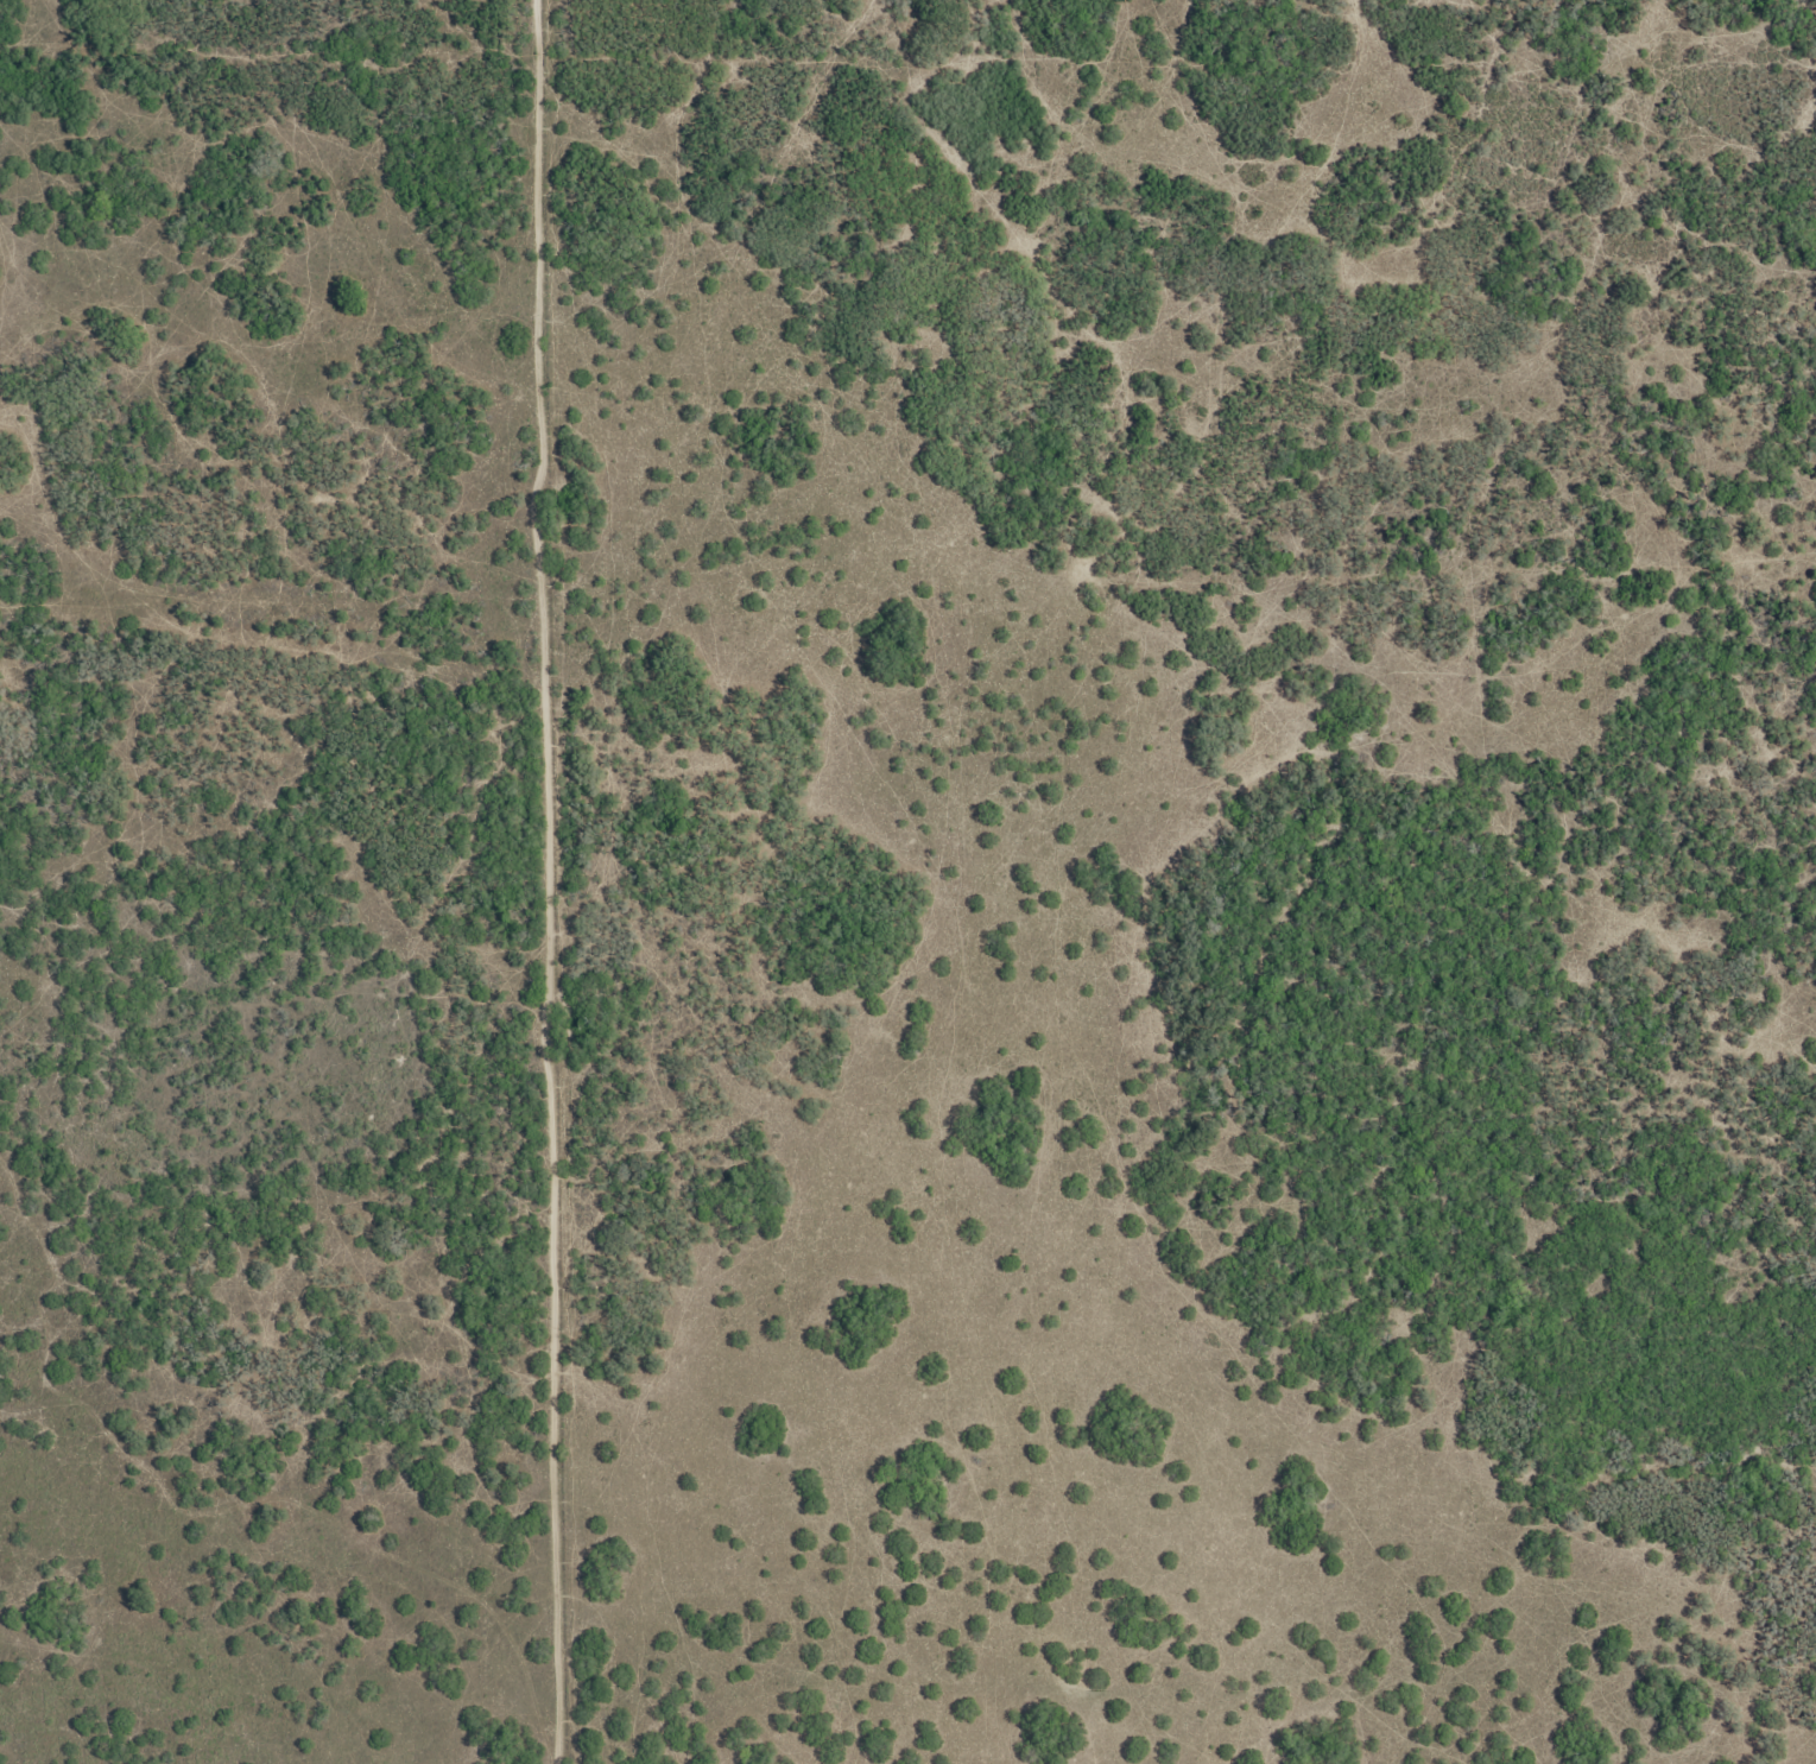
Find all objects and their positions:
road: (1474, 1509)

